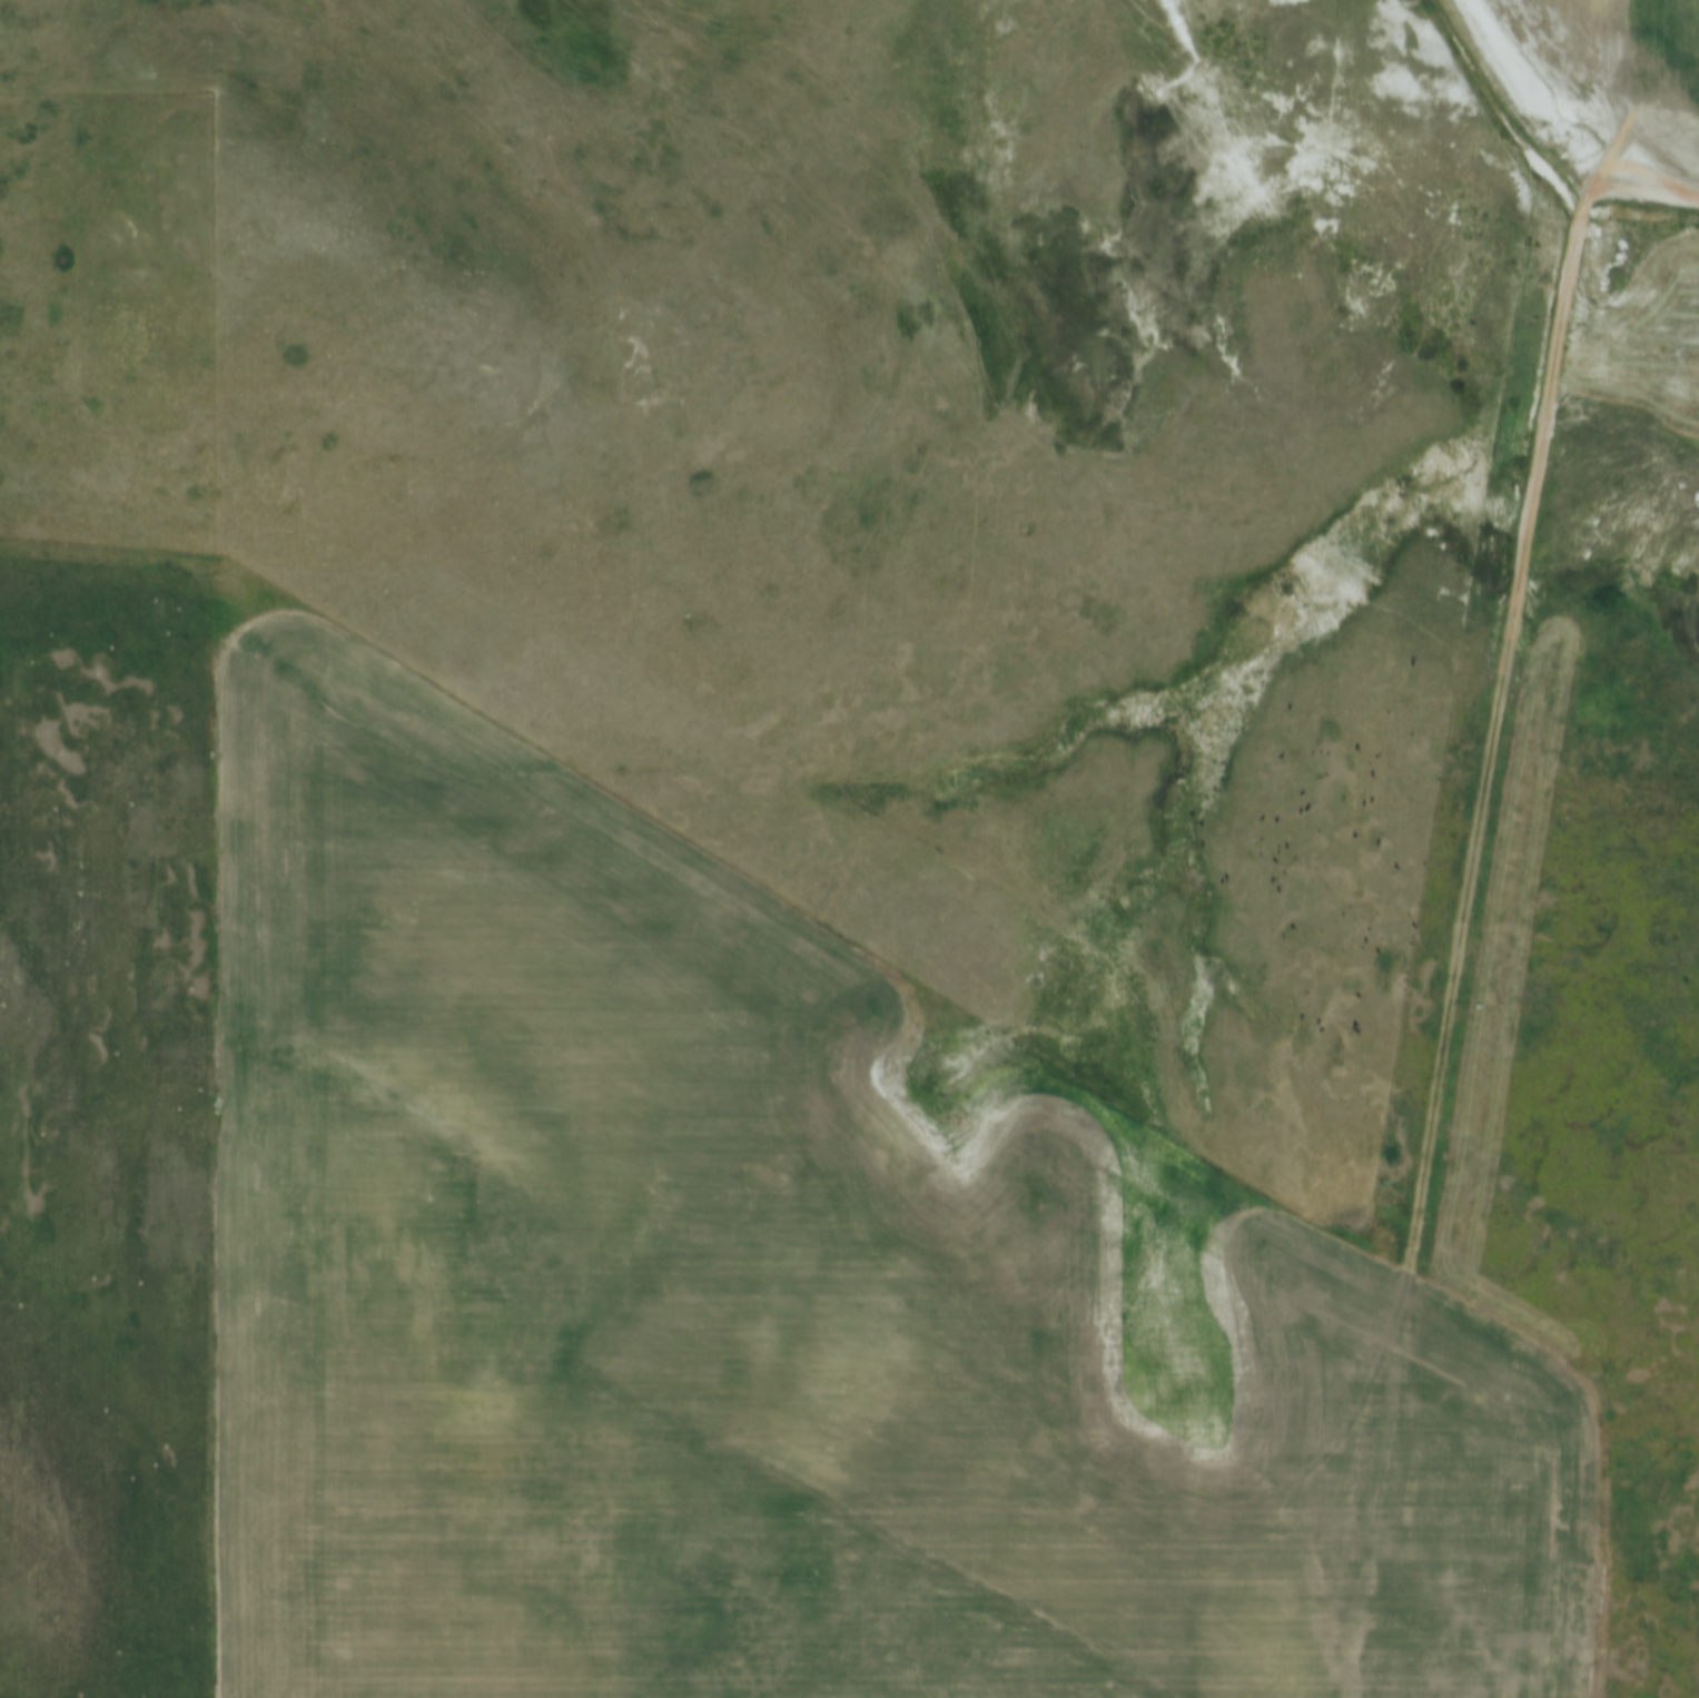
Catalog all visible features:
road: (1468, 888)

